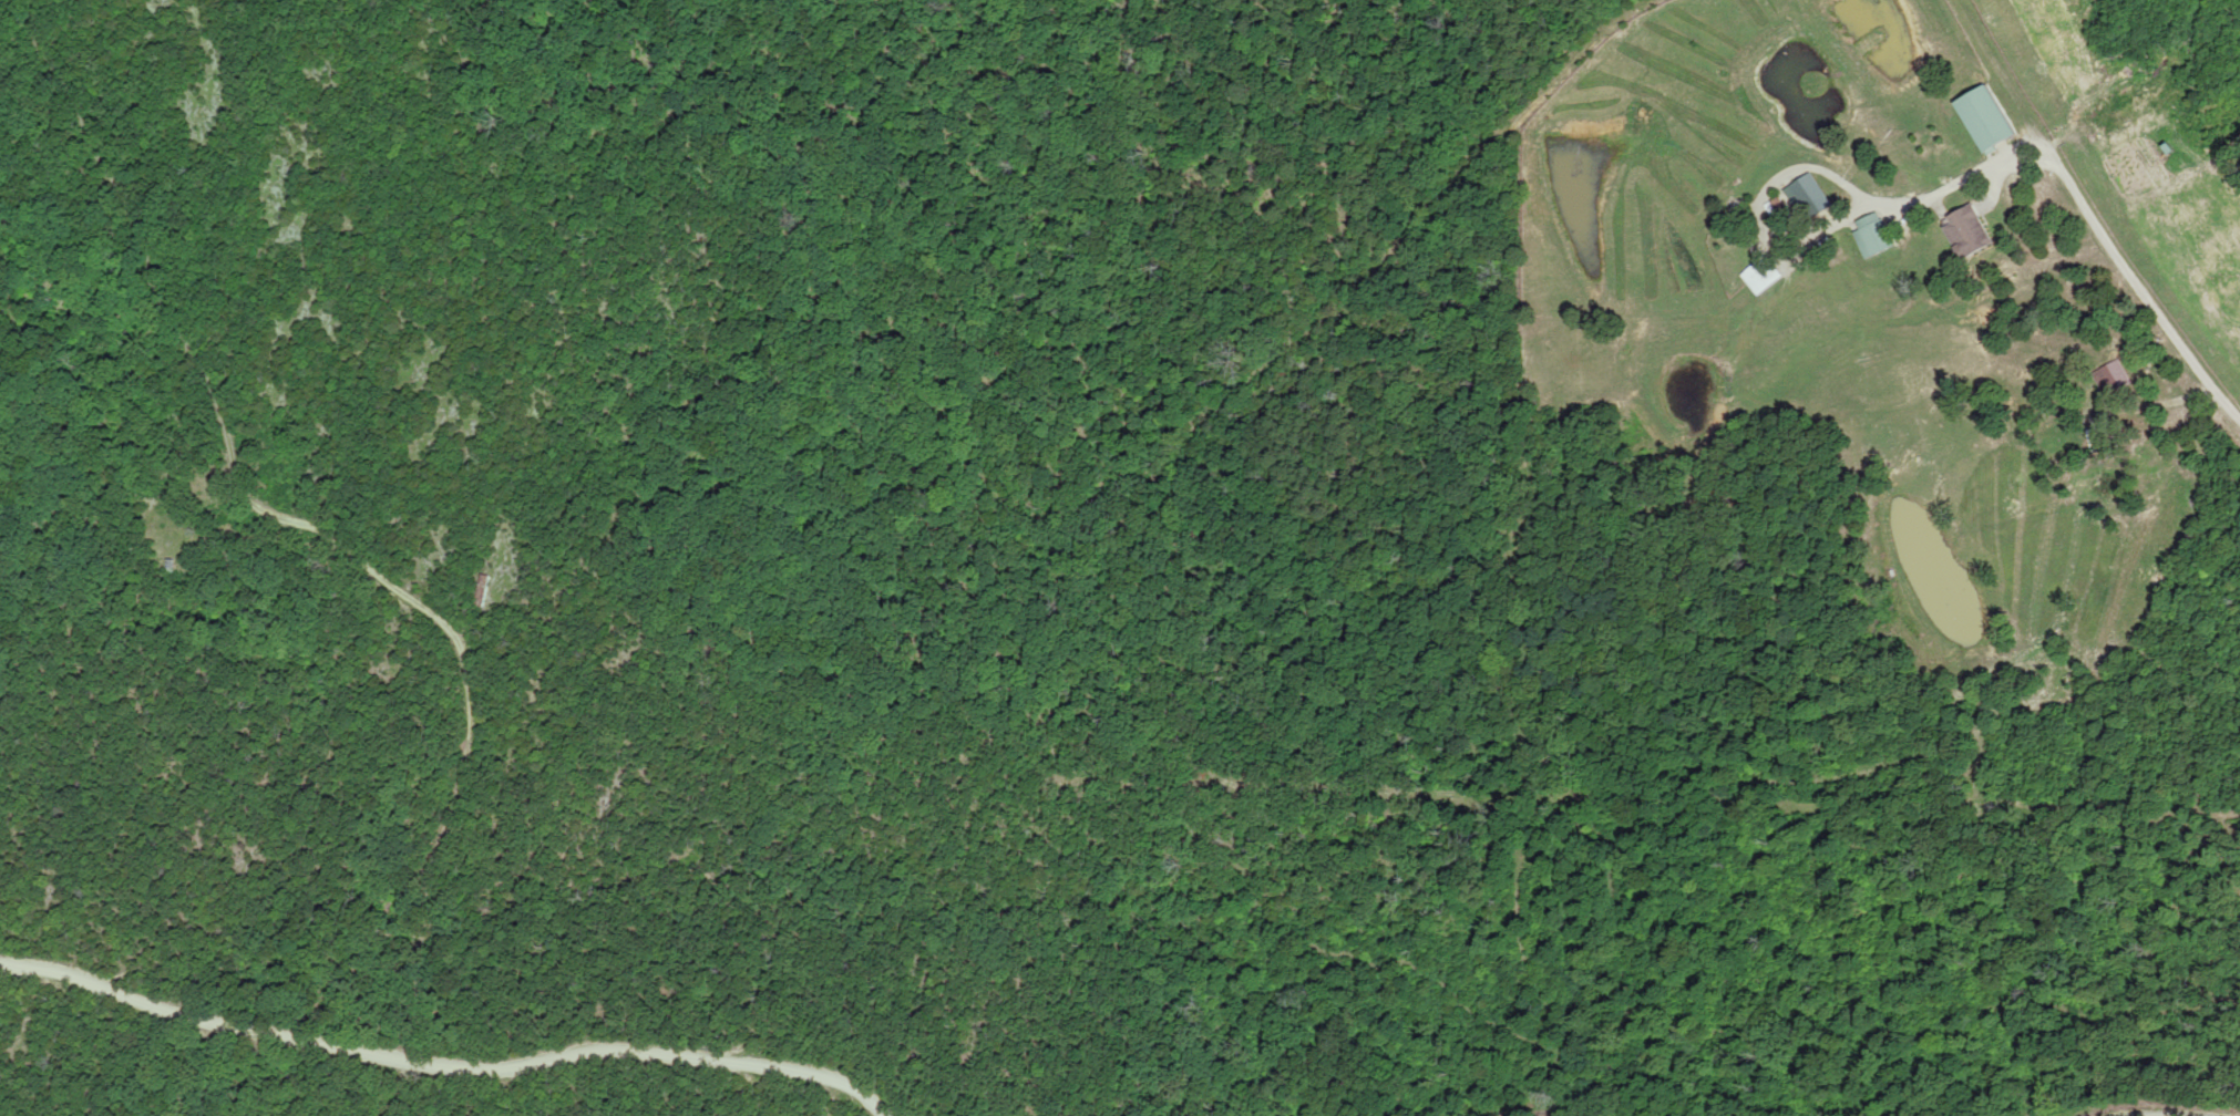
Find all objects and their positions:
road: (1944, 48)
road: (1737, 74)
building: (1986, 118)
road: (2107, 223)
building: (1969, 231)
building: (1873, 235)
building: (1763, 275)
building: (2111, 379)
building: (2095, 438)
building: (482, 591)

